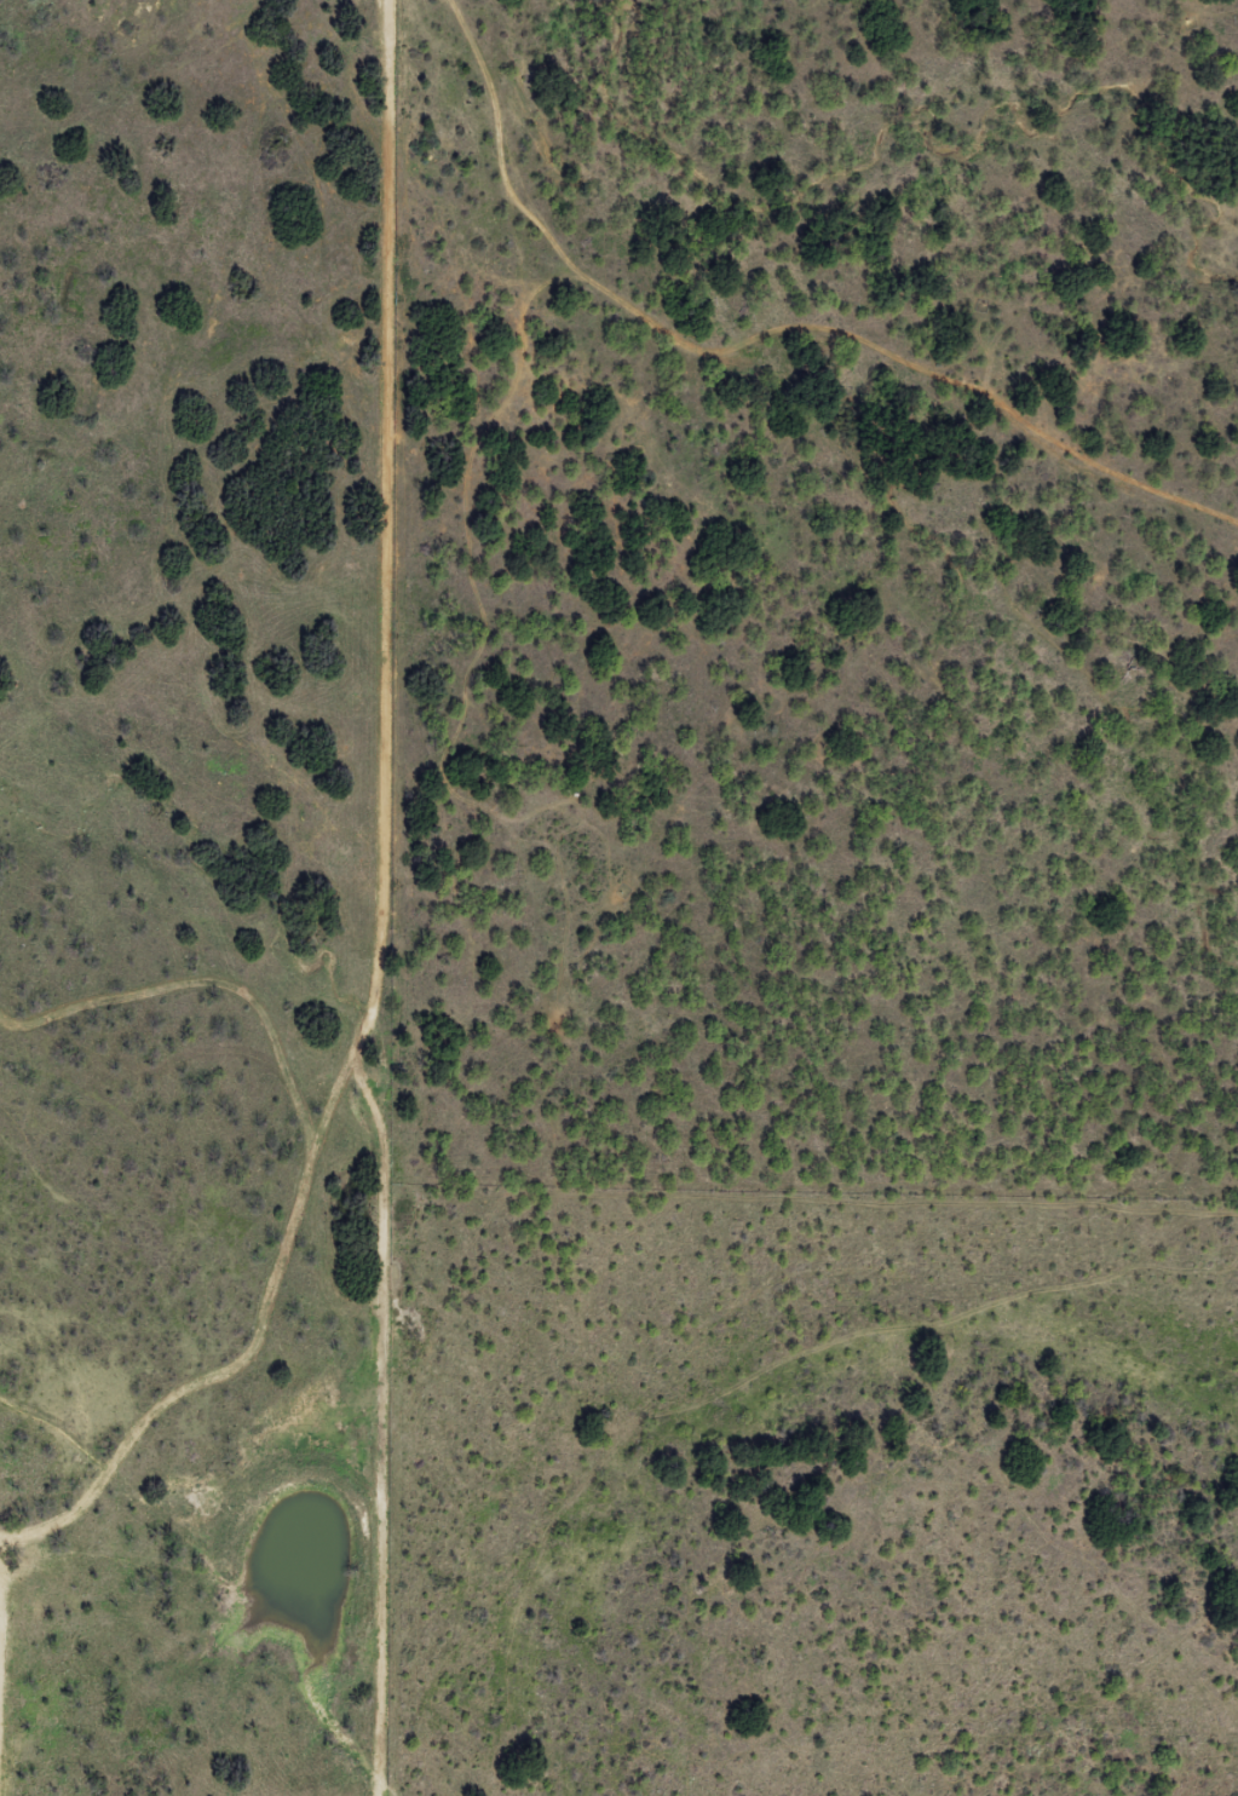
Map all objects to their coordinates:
road: (811, 350)

